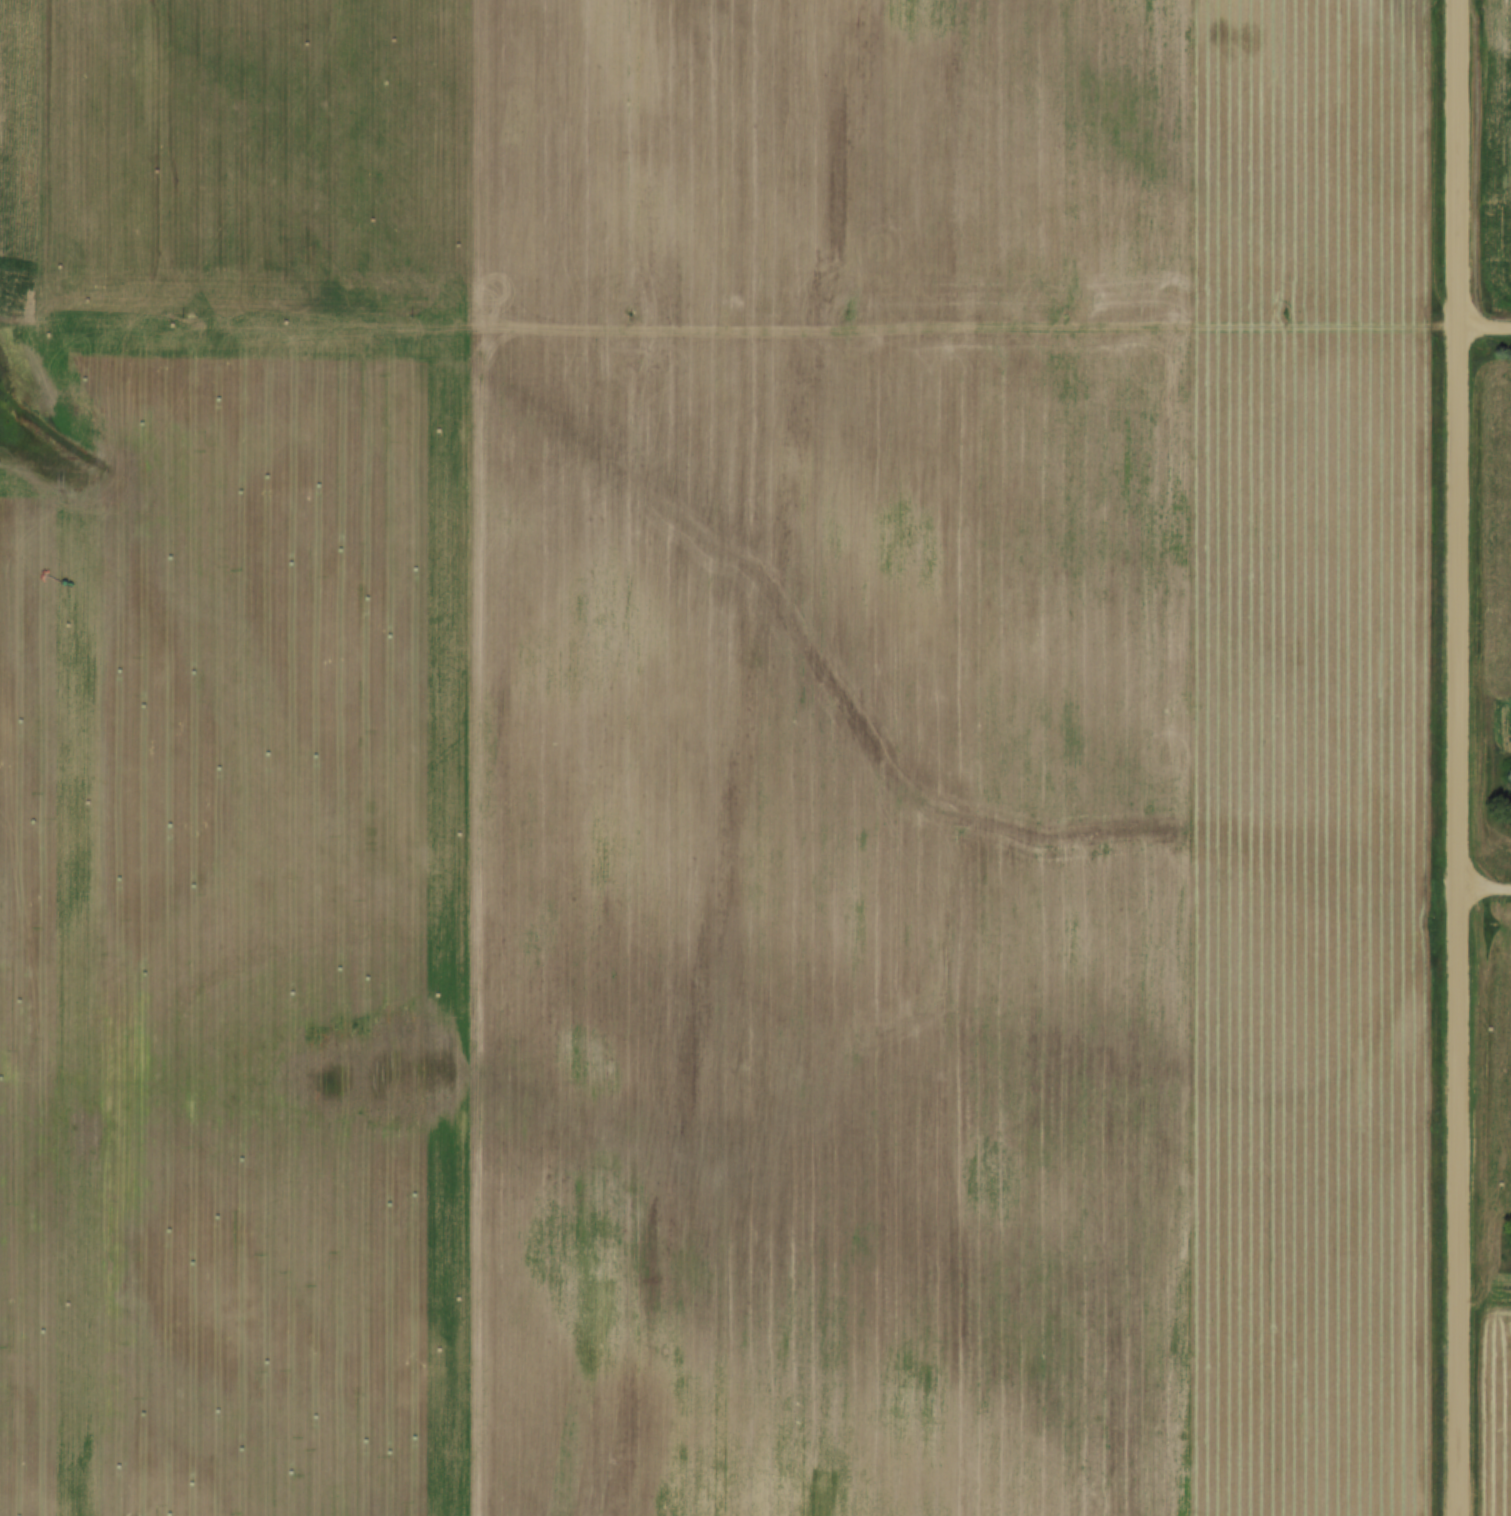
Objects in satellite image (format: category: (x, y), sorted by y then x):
road: (1487, 324)
road: (1466, 757)
road: (1489, 881)

